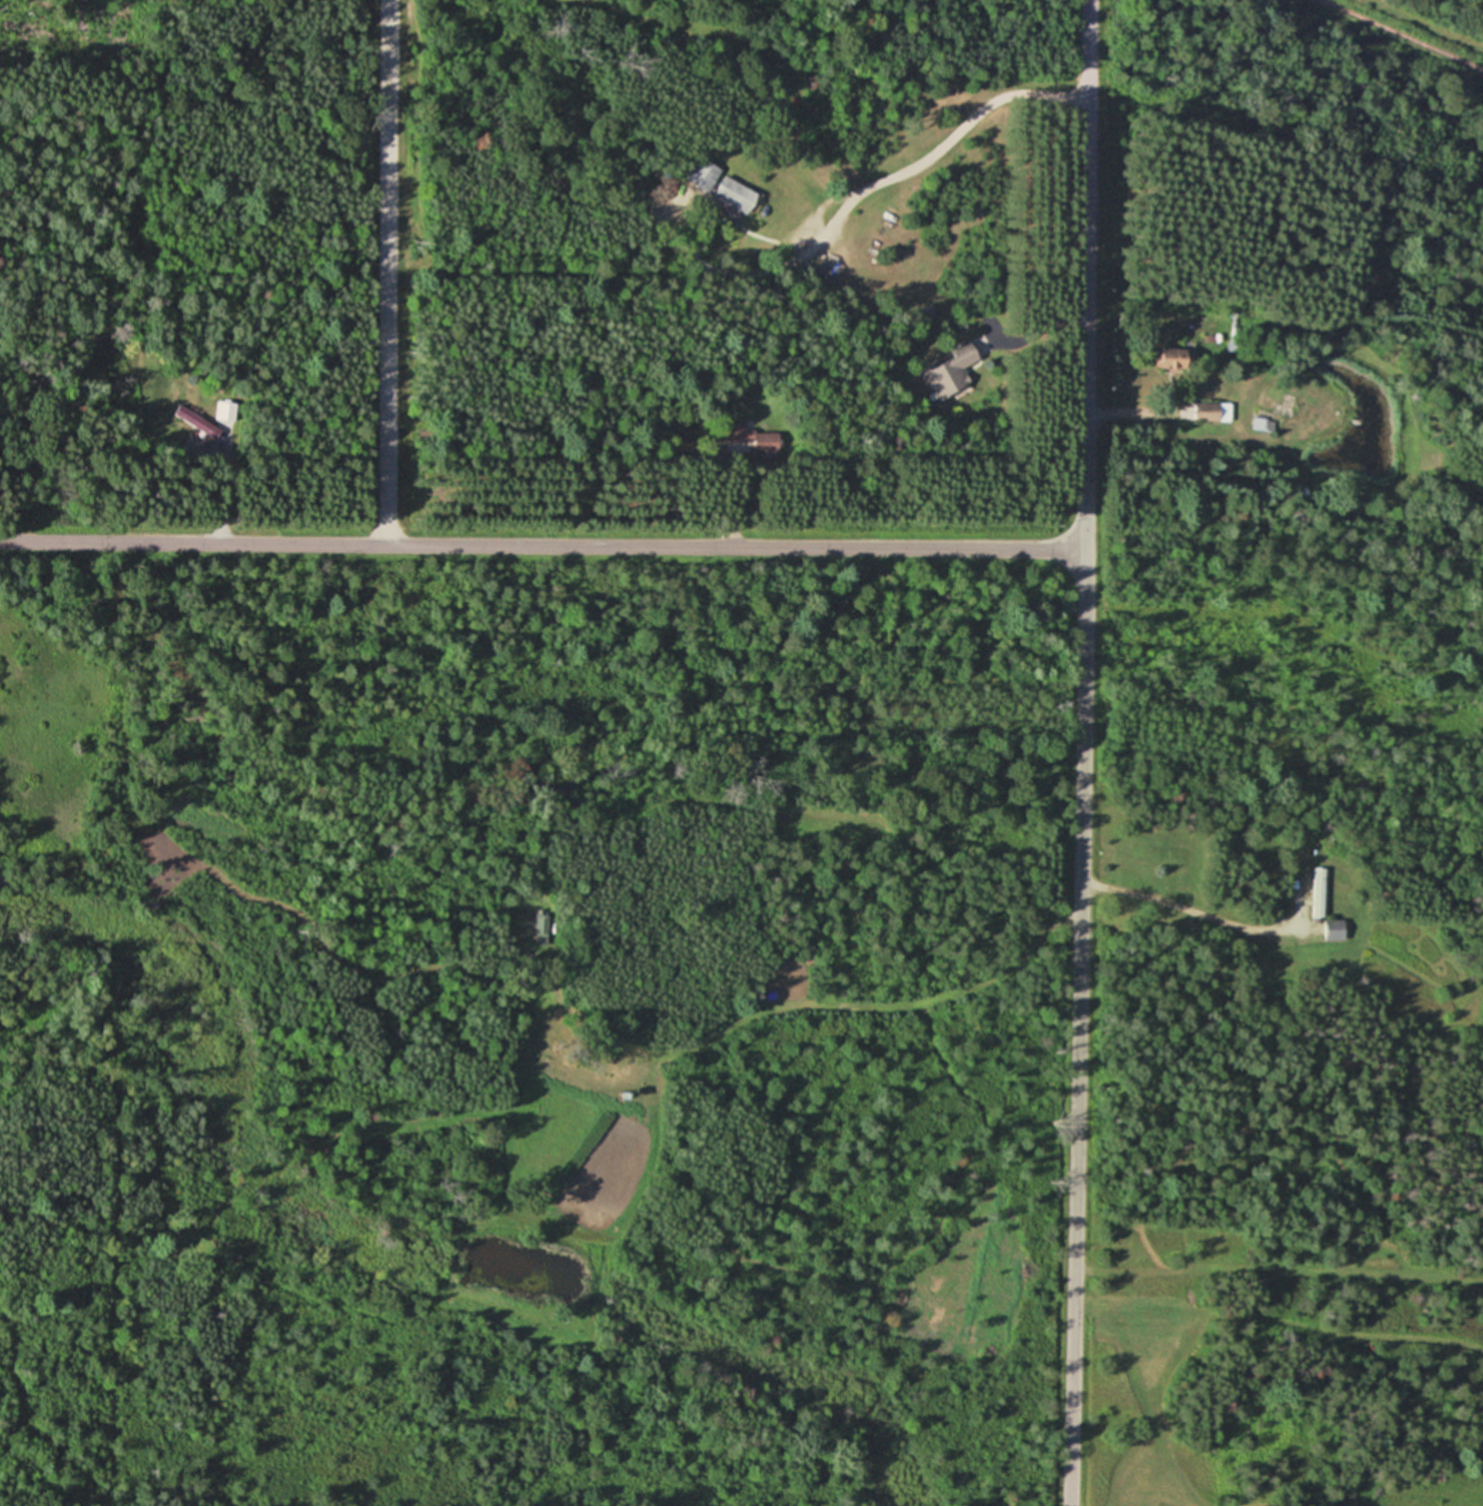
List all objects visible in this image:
railway: (1402, 34)
building: (703, 175)
road: (868, 189)
building: (736, 196)
building: (1175, 359)
building: (945, 379)
road: (1123, 411)
building: (225, 412)
building: (1213, 412)
building: (194, 422)
building: (1260, 424)
building: (748, 440)
road: (223, 501)
road: (735, 508)
road: (541, 544)
road: (1083, 753)
building: (1319, 884)
road: (1168, 902)
building: (1335, 929)

